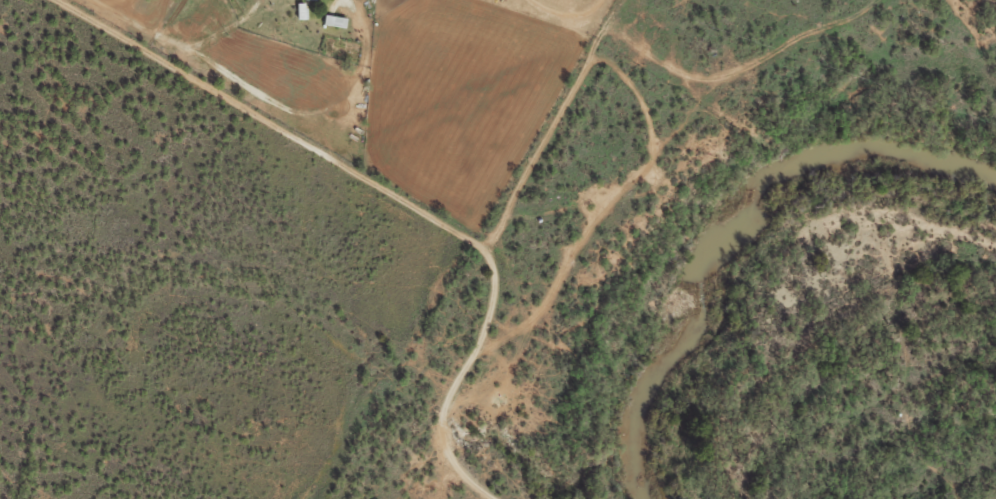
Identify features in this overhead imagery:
building: (319, 0)
building: (338, 21)
river: (729, 230)

